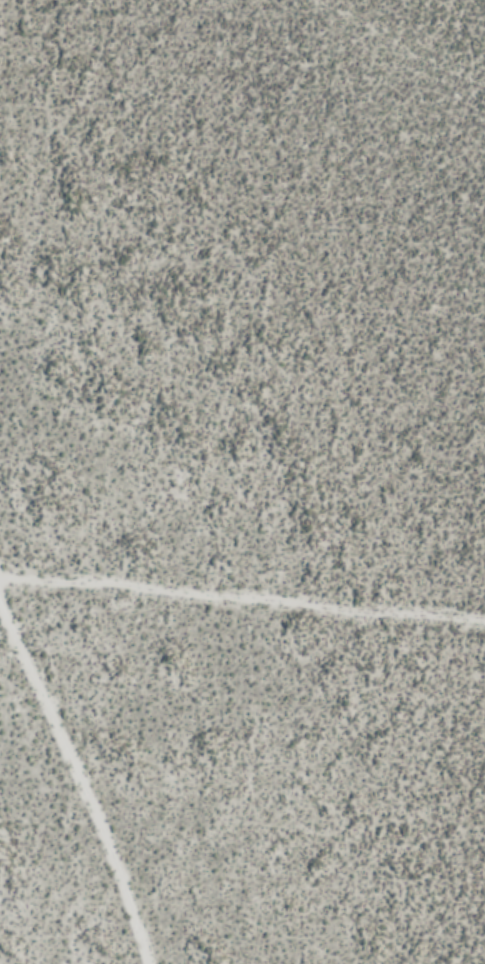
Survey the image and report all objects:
road: (242, 595)
road: (81, 776)

